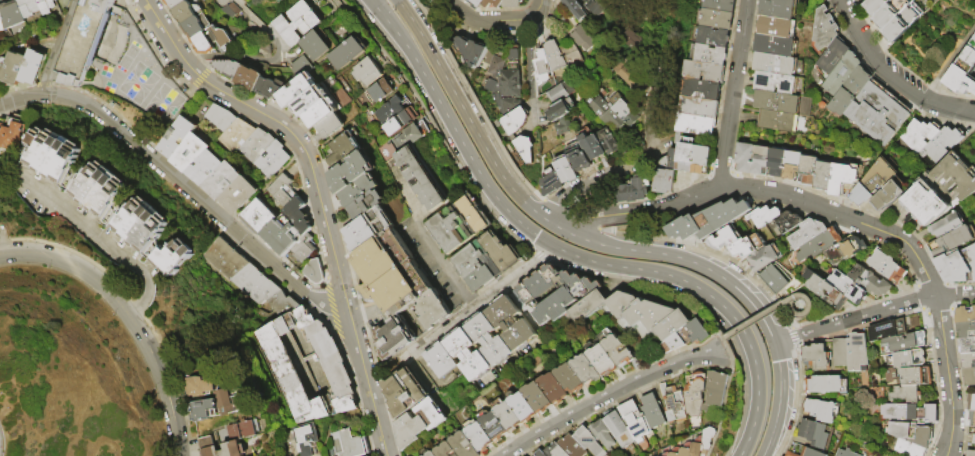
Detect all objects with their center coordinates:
building: (59, 0)
building: (275, 0)
building: (473, 3)
building: (489, 3)
building: (508, 3)
building: (177, 4)
building: (720, 5)
building: (874, 5)
building: (47, 7)
building: (594, 7)
building: (30, 8)
building: (575, 9)
building: (777, 9)
building: (890, 11)
building: (189, 13)
road: (534, 13)
building: (14, 15)
road: (677, 15)
building: (717, 19)
road: (481, 21)
building: (901, 21)
building: (2, 22)
building: (299, 24)
building: (199, 27)
building: (774, 27)
building: (825, 29)
building: (713, 37)
building: (582, 40)
building: (631, 40)
building: (86, 41)
building: (213, 41)
park: (929, 44)
building: (773, 45)
building: (318, 46)
road: (57, 47)
building: (350, 53)
building: (471, 53)
building: (710, 54)
road: (263, 56)
building: (554, 57)
building: (834, 57)
building: (571, 58)
road: (949, 63)
road: (528, 64)
building: (774, 64)
building: (497, 65)
building: (2, 66)
road: (901, 66)
building: (541, 67)
building: (230, 68)
building: (17, 69)
building: (35, 69)
building: (704, 70)
building: (962, 71)
building: (370, 72)
building: (626, 75)
building: (843, 75)
road: (892, 75)
building: (251, 79)
building: (506, 83)
building: (774, 83)
building: (700, 88)
building: (270, 89)
building: (383, 90)
building: (299, 91)
road: (411, 91)
road: (663, 91)
building: (560, 93)
road: (733, 93)
building: (851, 93)
building: (321, 96)
building: (776, 102)
building: (505, 105)
building: (699, 107)
building: (329, 110)
building: (622, 110)
building: (392, 111)
building: (560, 111)
building: (879, 114)
building: (605, 115)
road: (467, 116)
building: (223, 118)
building: (778, 121)
building: (402, 122)
building: (514, 122)
building: (696, 124)
building: (560, 125)
building: (331, 128)
road: (453, 128)
building: (3, 130)
building: (14, 133)
building: (414, 135)
building: (238, 136)
building: (179, 137)
building: (930, 140)
building: (607, 143)
building: (258, 146)
building: (592, 148)
building: (344, 149)
building: (524, 149)
building: (685, 153)
building: (191, 154)
building: (53, 155)
building: (672, 157)
building: (745, 157)
building: (700, 159)
building: (274, 160)
building: (761, 160)
building: (777, 162)
building: (792, 164)
building: (206, 169)
building: (807, 171)
building: (565, 172)
building: (351, 173)
building: (823, 176)
building: (842, 178)
building: (952, 178)
building: (423, 179)
building: (663, 181)
building: (223, 182)
road: (178, 183)
road: (596, 183)
building: (872, 183)
building: (551, 185)
road: (267, 189)
building: (634, 189)
building: (99, 190)
building: (359, 191)
building: (284, 192)
road: (770, 192)
road: (317, 194)
building: (239, 196)
building: (887, 197)
building: (368, 205)
building: (925, 205)
building: (762, 216)
building: (260, 218)
building: (707, 221)
building: (786, 223)
building: (378, 224)
building: (461, 225)
building: (141, 226)
building: (946, 226)
building: (291, 231)
building: (806, 233)
building: (723, 239)
road: (2, 240)
road: (111, 241)
building: (950, 242)
traffic signals: (550, 245)
building: (818, 245)
building: (745, 247)
building: (306, 250)
building: (845, 250)
building: (173, 258)
building: (226, 258)
building: (762, 258)
road: (437, 259)
building: (487, 262)
building: (958, 266)
building: (886, 267)
building: (315, 273)
building: (391, 275)
building: (775, 279)
road: (728, 282)
building: (869, 282)
building: (255, 284)
building: (847, 287)
building: (824, 289)
building: (555, 292)
road: (956, 297)
road: (713, 298)
road: (808, 299)
road: (482, 302)
road: (467, 303)
building: (281, 305)
road: (780, 305)
building: (432, 311)
road: (129, 313)
building: (636, 313)
road: (867, 314)
building: (964, 315)
building: (512, 324)
road: (793, 326)
building: (886, 329)
building: (965, 330)
building: (395, 338)
building: (688, 338)
road: (785, 338)
building: (490, 340)
road: (723, 340)
traffic signals: (773, 342)
building: (903, 342)
building: (966, 345)
building: (619, 352)
building: (857, 352)
building: (825, 354)
building: (469, 355)
building: (907, 358)
building: (967, 360)
building: (442, 361)
building: (603, 362)
building: (586, 371)
park: (70, 373)
building: (293, 374)
building: (914, 376)
road: (948, 376)
building: (968, 377)
building: (570, 380)
building: (826, 384)
building: (202, 387)
building: (554, 389)
building: (719, 389)
building: (406, 393)
building: (905, 394)
building: (697, 395)
road: (611, 396)
building: (539, 399)
building: (970, 402)
building: (676, 404)
building: (221, 406)
building: (524, 408)
building: (820, 410)
building: (654, 412)
building: (908, 412)
building: (509, 417)
building: (971, 419)
road: (28, 421)
building: (637, 421)
building: (420, 424)
building: (494, 427)
building: (621, 430)
building: (815, 434)
building: (604, 435)
building: (480, 438)
building: (910, 438)
building: (306, 439)
building: (233, 440)
building: (973, 440)
building: (590, 442)
building: (349, 445)
building: (464, 445)
building: (699, 445)
building: (574, 447)
building: (445, 450)
building: (557, 451)
building: (542, 453)
building: (810, 453)
building: (845, 453)
building: (970, 453)
building: (431, 454)
building: (790, 454)
building: (457, 455)

